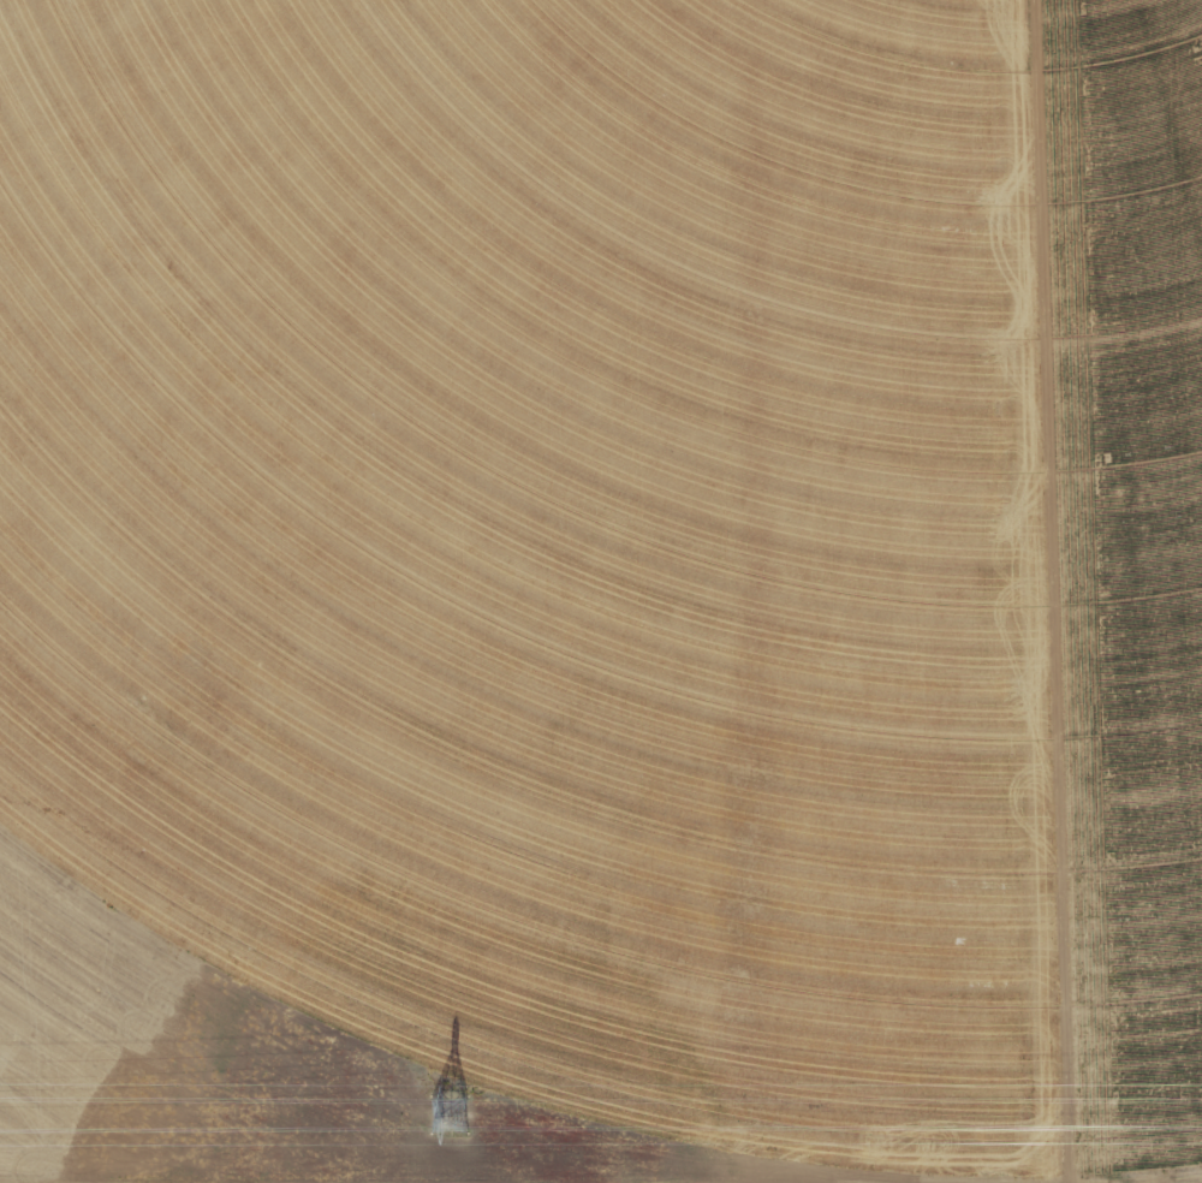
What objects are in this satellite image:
power tower: (448, 1116)

